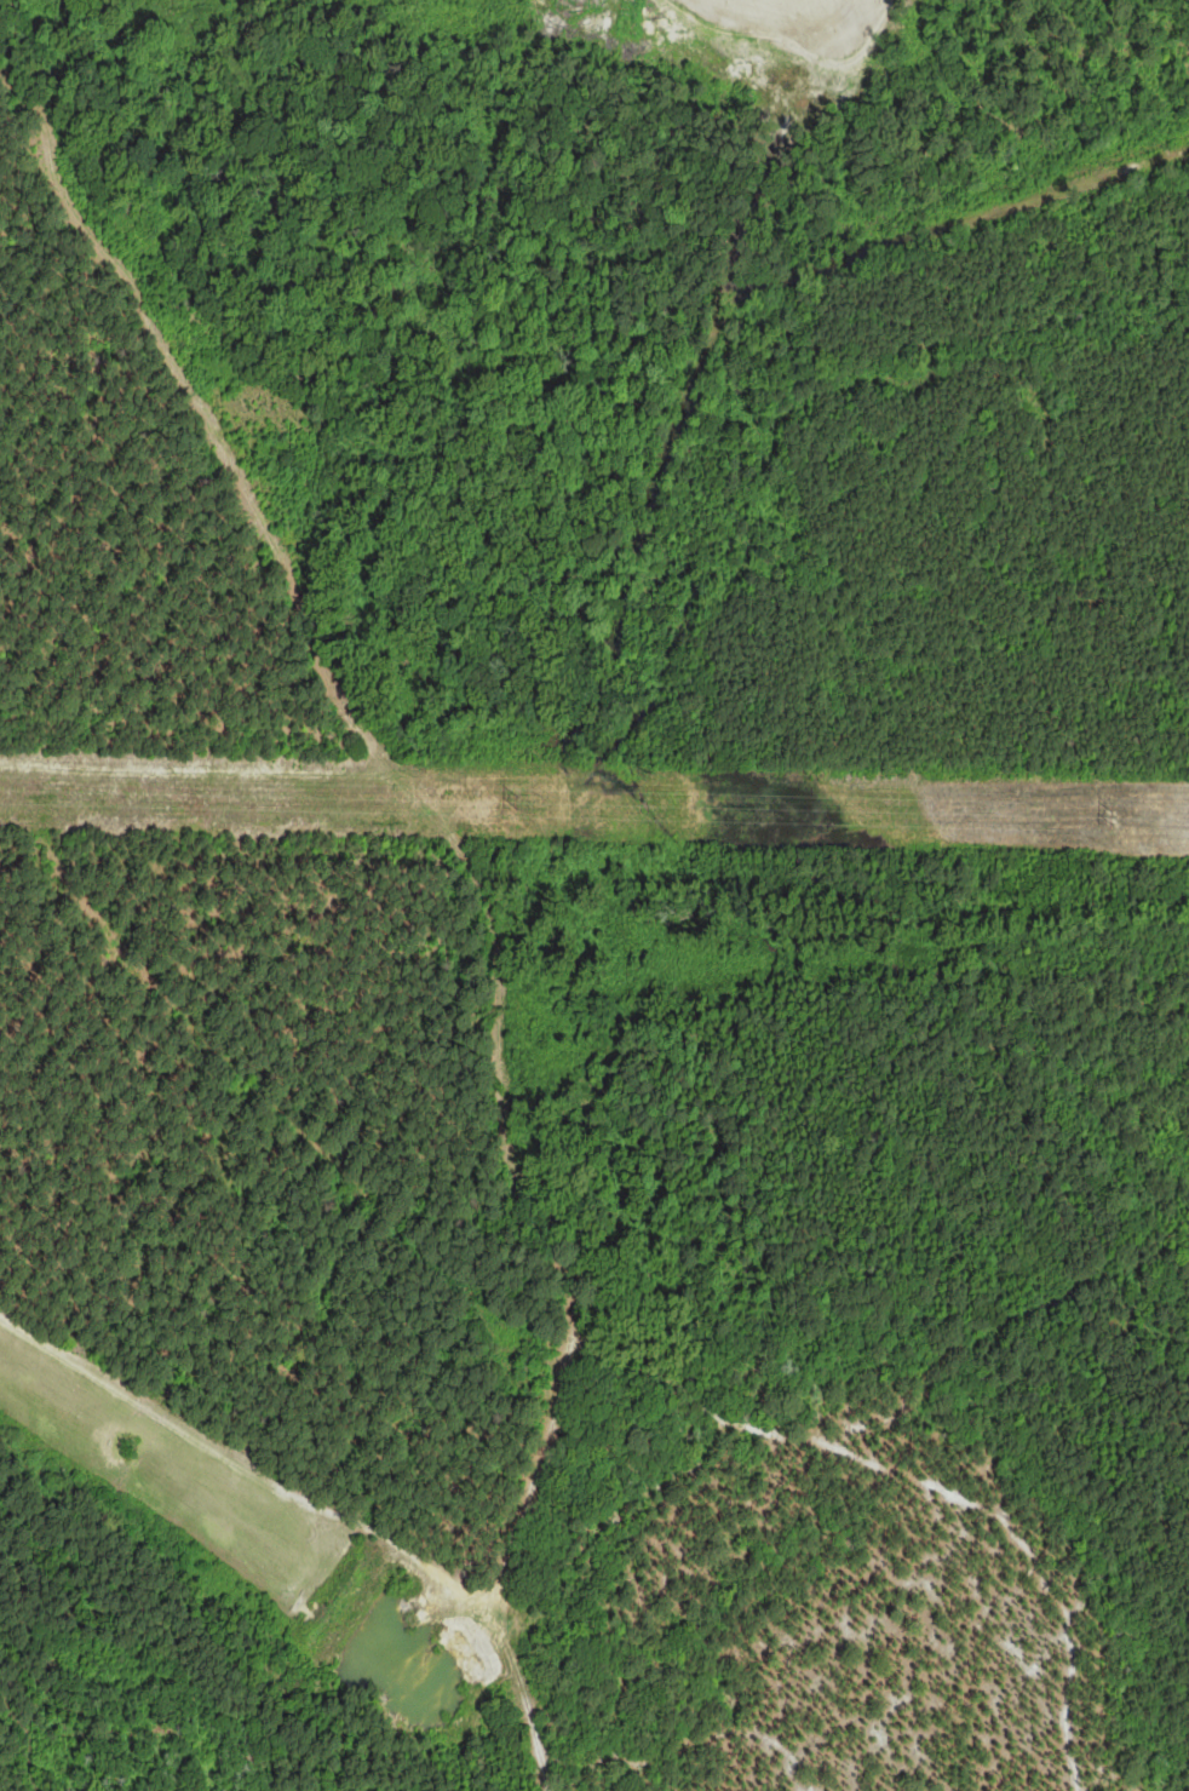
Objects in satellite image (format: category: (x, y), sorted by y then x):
power tower: (519, 794)
power tower: (1115, 816)

